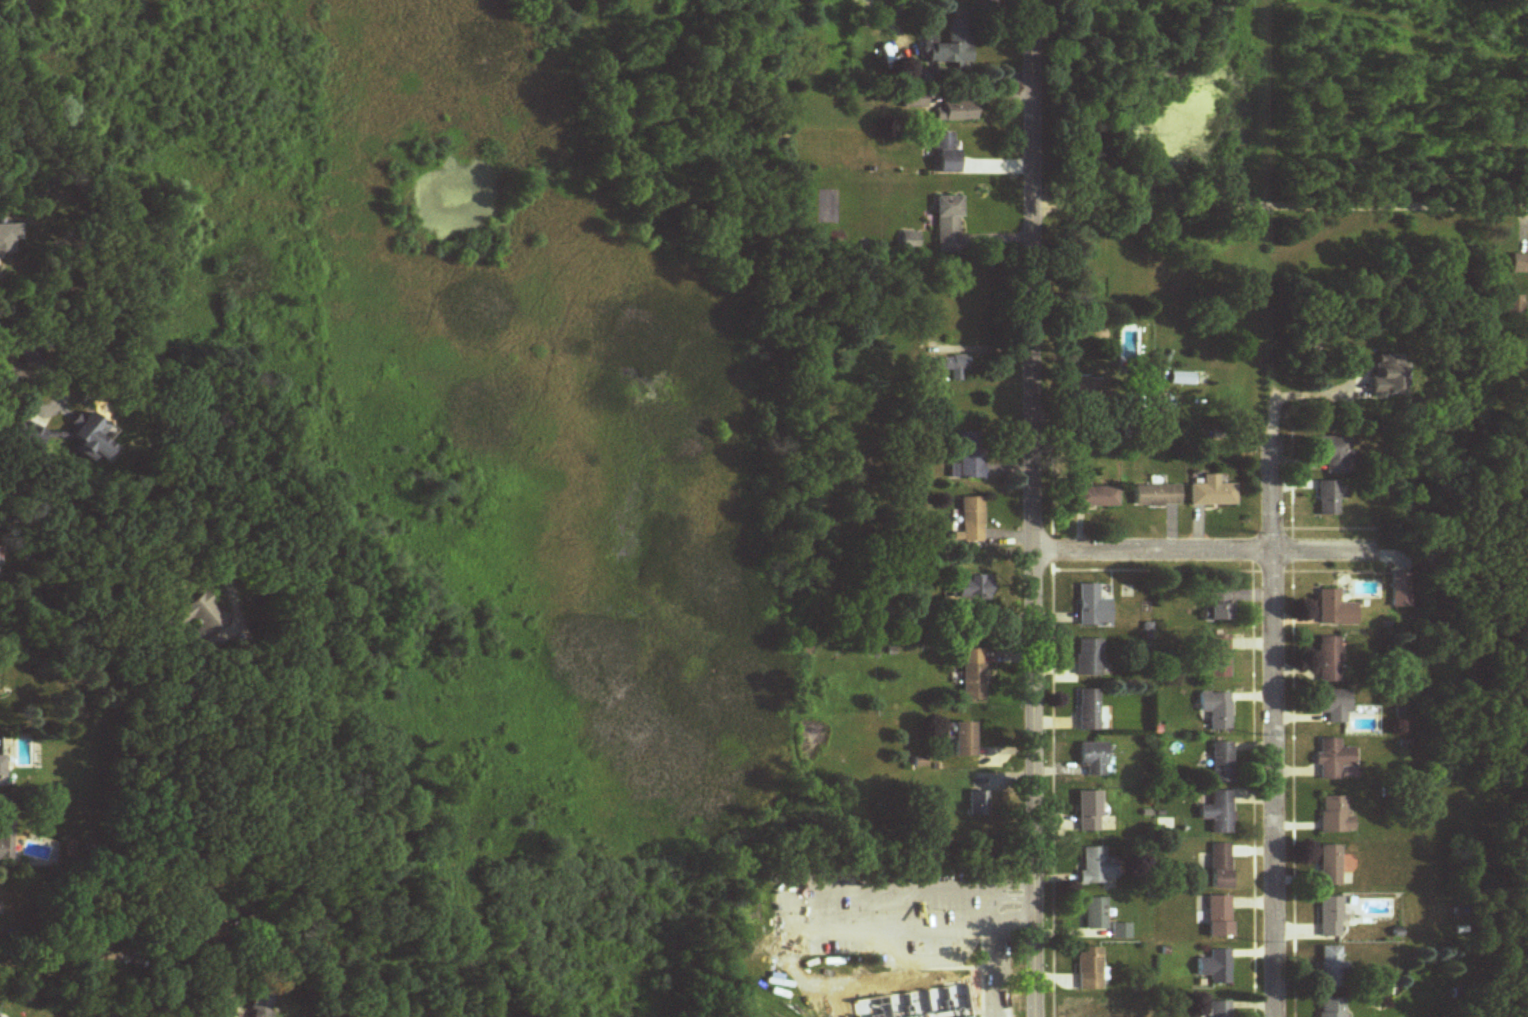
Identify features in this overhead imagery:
building: (948, 46)
building: (919, 79)
building: (914, 100)
building: (954, 112)
building: (944, 154)
road: (1279, 208)
building: (946, 225)
building: (1519, 264)
building: (1515, 306)
building: (945, 367)
building: (1388, 376)
building: (1179, 379)
road: (1306, 394)
building: (1155, 403)
building: (26, 437)
building: (84, 438)
building: (1333, 455)
building: (967, 458)
building: (1210, 493)
building: (1154, 497)
building: (1093, 499)
building: (1325, 499)
road: (1029, 508)
building: (970, 516)
road: (1214, 551)
building: (969, 589)
building: (1216, 606)
building: (1089, 608)
building: (1330, 610)
building: (200, 618)
building: (1086, 658)
building: (1215, 658)
building: (1327, 661)
building: (971, 675)
building: (1333, 707)
building: (1085, 711)
building: (1214, 711)
road: (1273, 720)
building: (962, 741)
building: (1092, 759)
building: (1331, 760)
building: (1220, 763)
building: (0, 770)
building: (978, 804)
building: (1087, 812)
building: (1216, 813)
building: (1334, 817)
building: (4, 836)
building: (1329, 867)
building: (1095, 868)
building: (1219, 868)
road: (991, 903)
road: (890, 905)
road: (780, 906)
building: (1094, 914)
building: (1217, 916)
building: (1328, 917)
road: (930, 955)
building: (1218, 967)
building: (1330, 967)
building: (1088, 969)
road: (995, 972)
road: (76, 996)
building: (257, 1000)
building: (1330, 1007)
building: (902, 1016)

